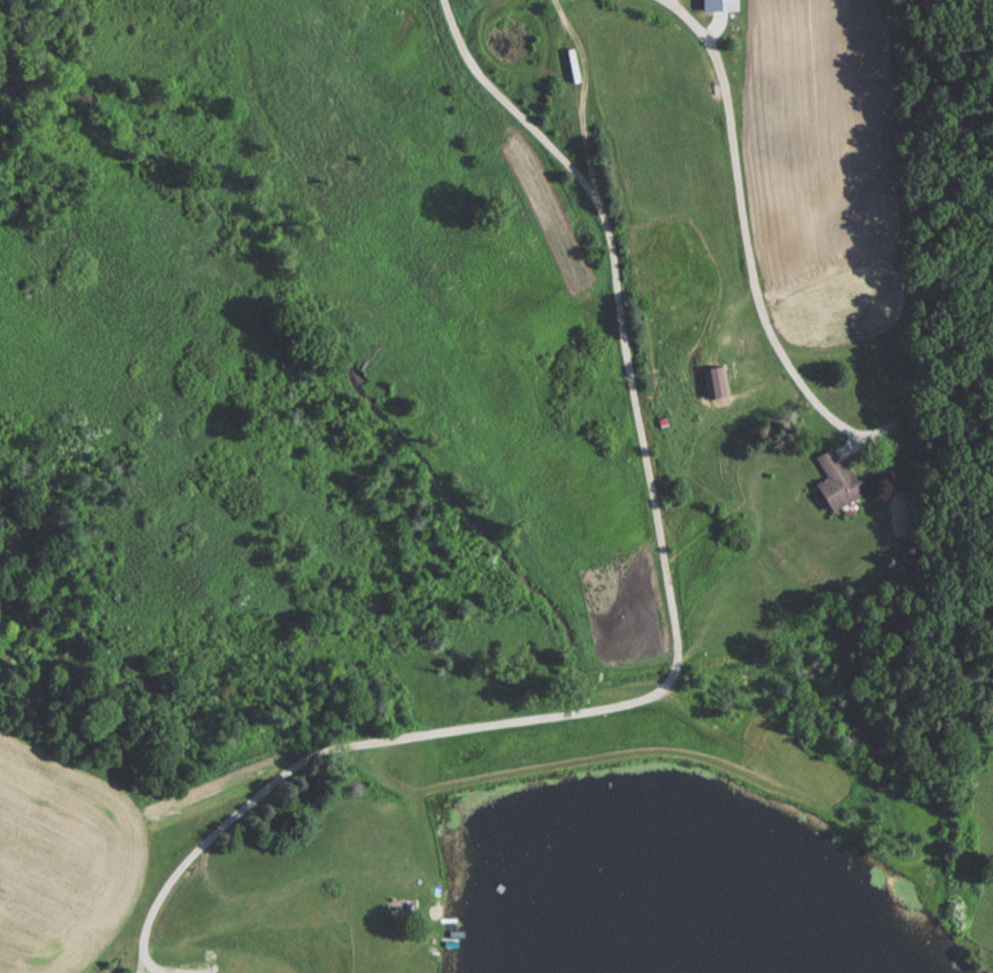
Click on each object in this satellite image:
building: (714, 5)
road: (579, 101)
road: (749, 255)
building: (720, 378)
building: (832, 480)
road: (678, 649)

